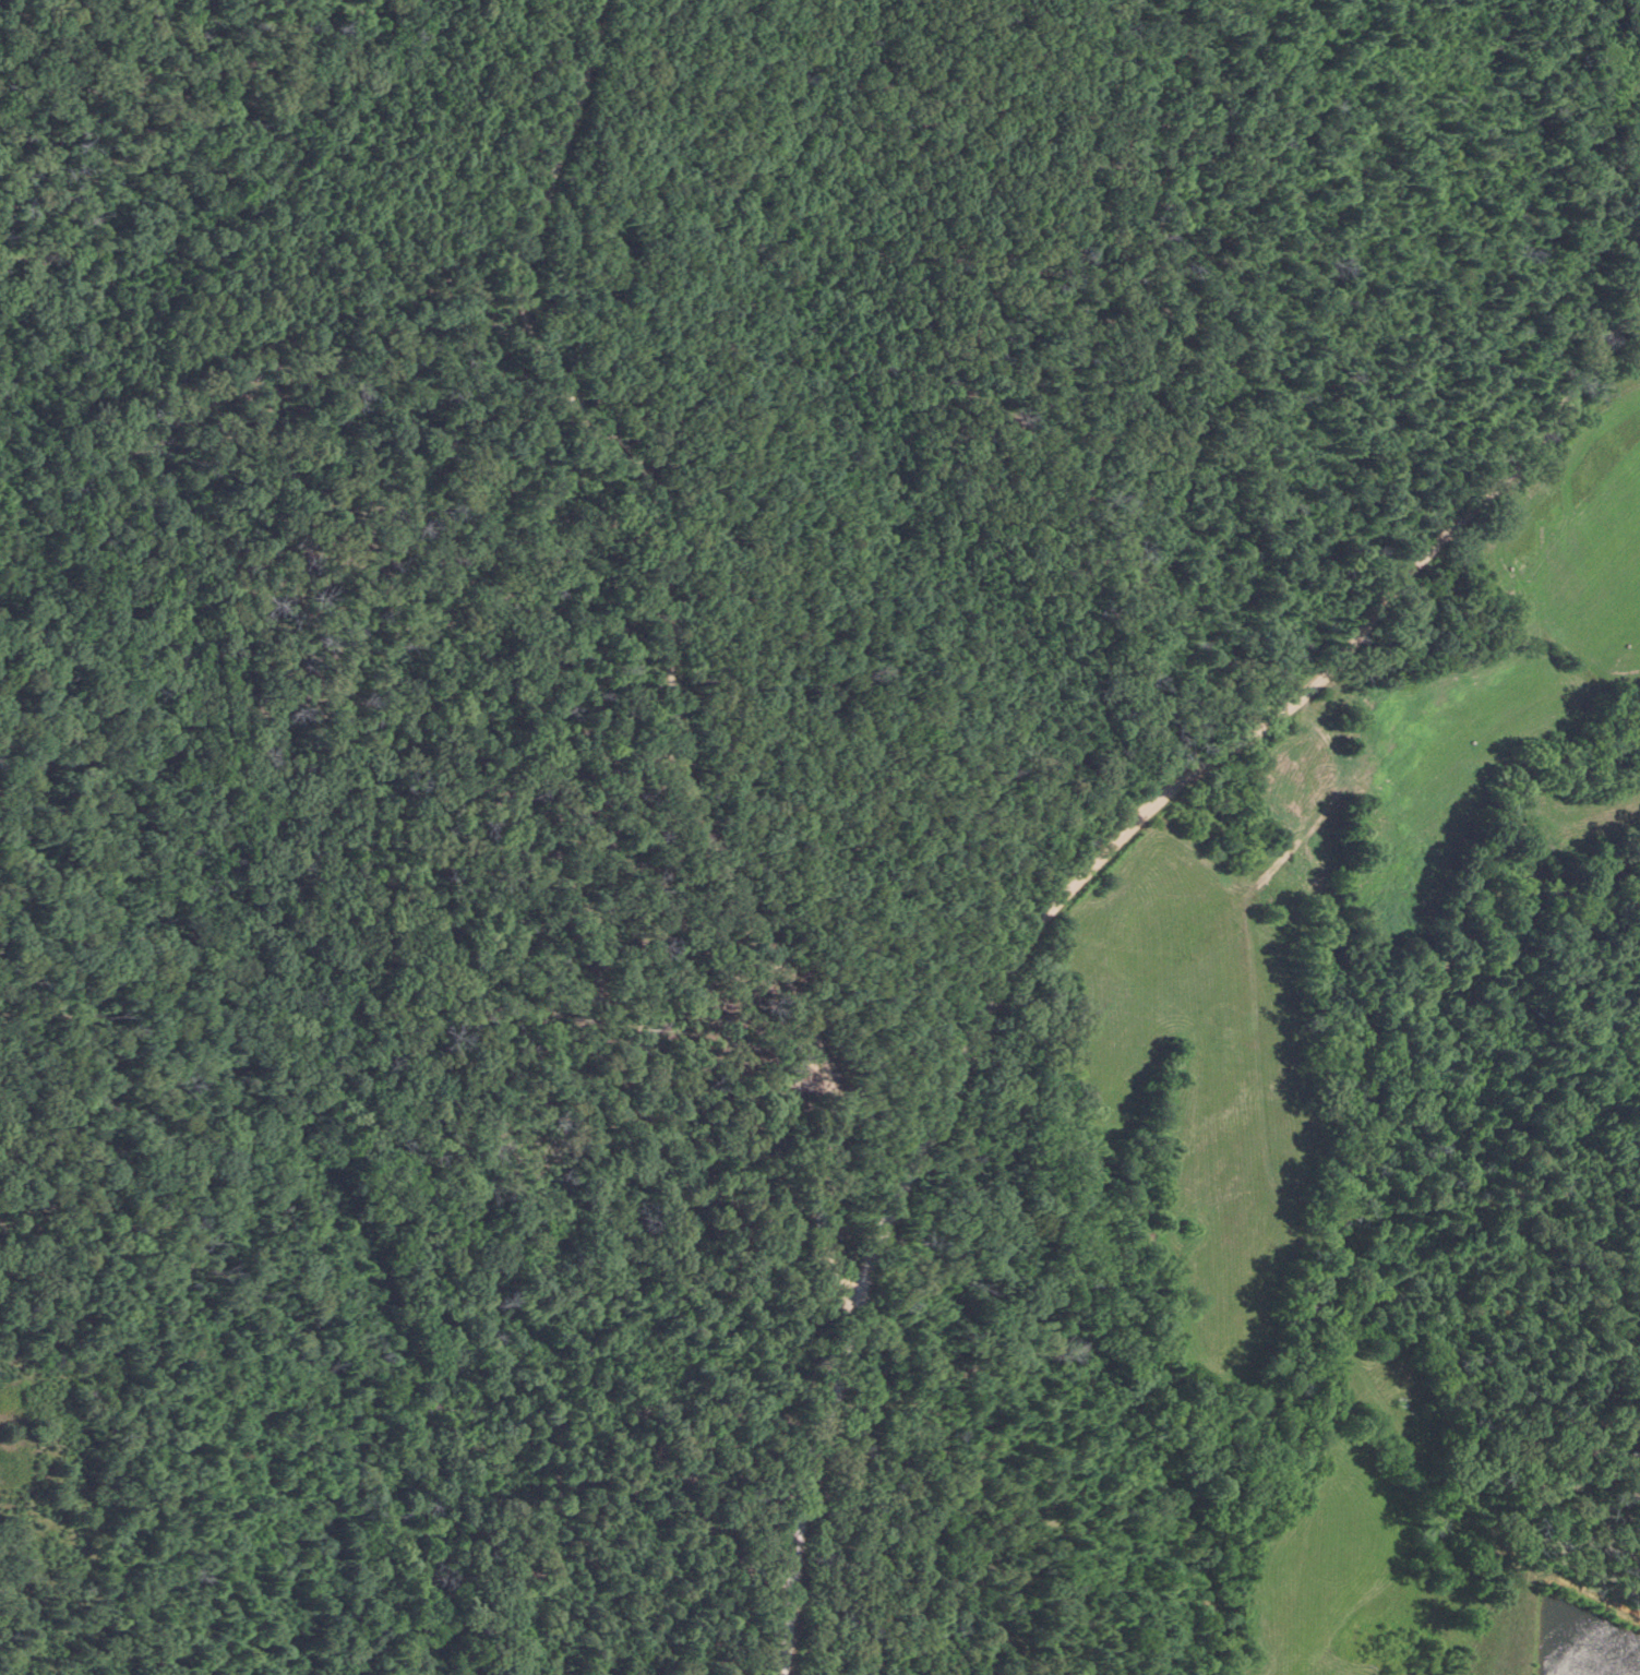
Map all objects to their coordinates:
road: (672, 642)
road: (1057, 897)

